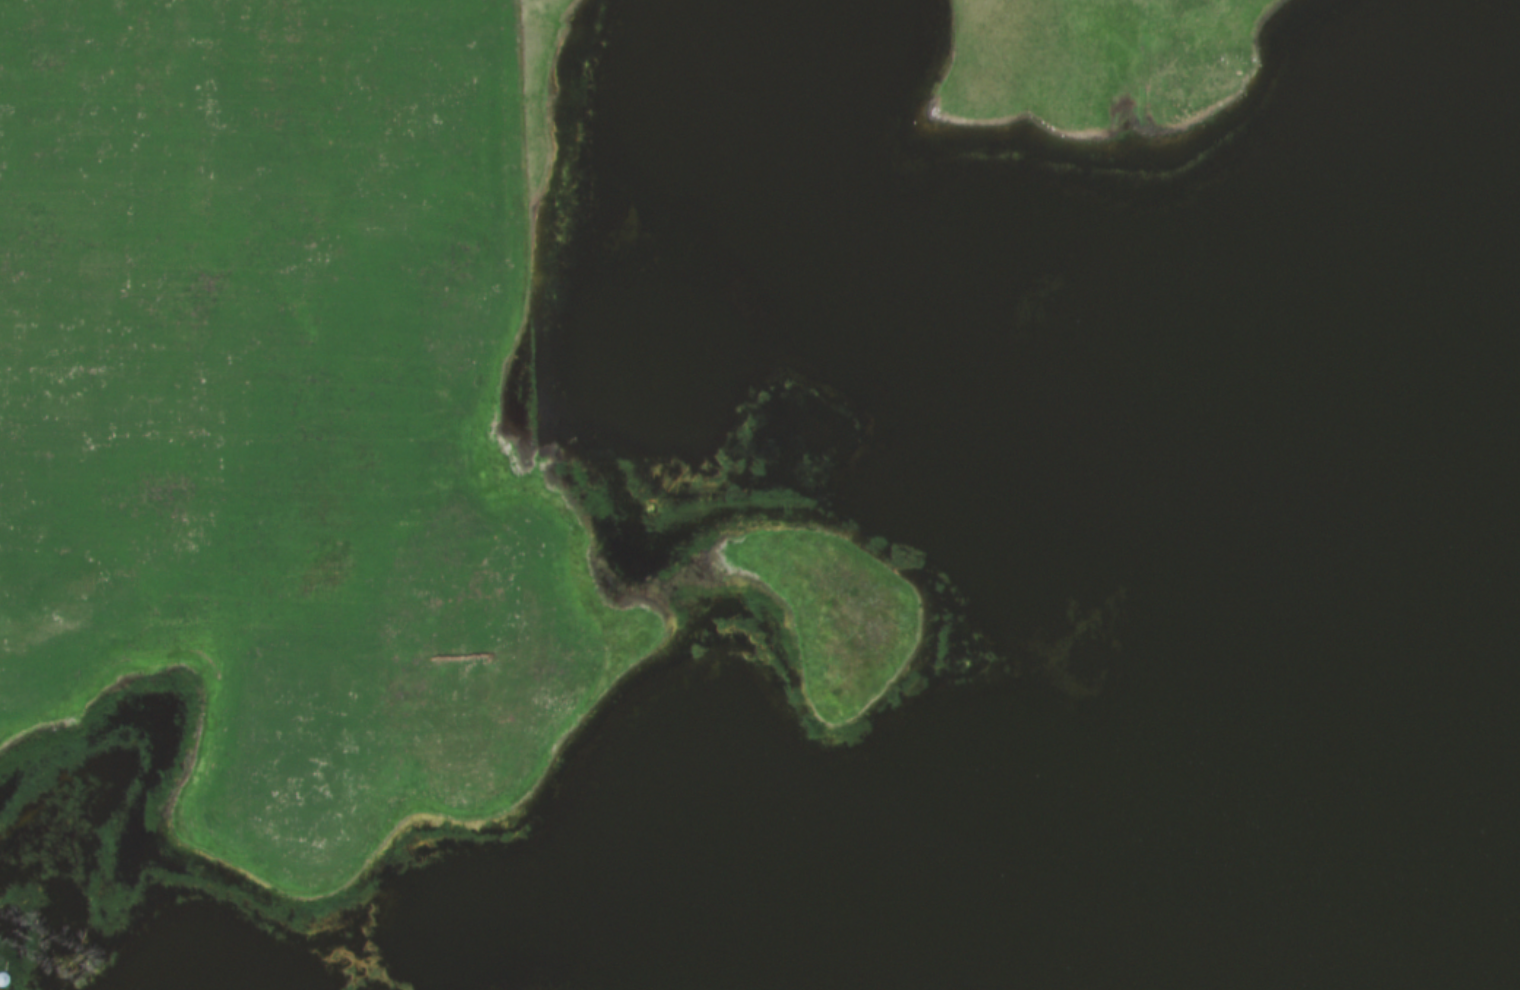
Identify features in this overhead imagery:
building: (2, 980)

